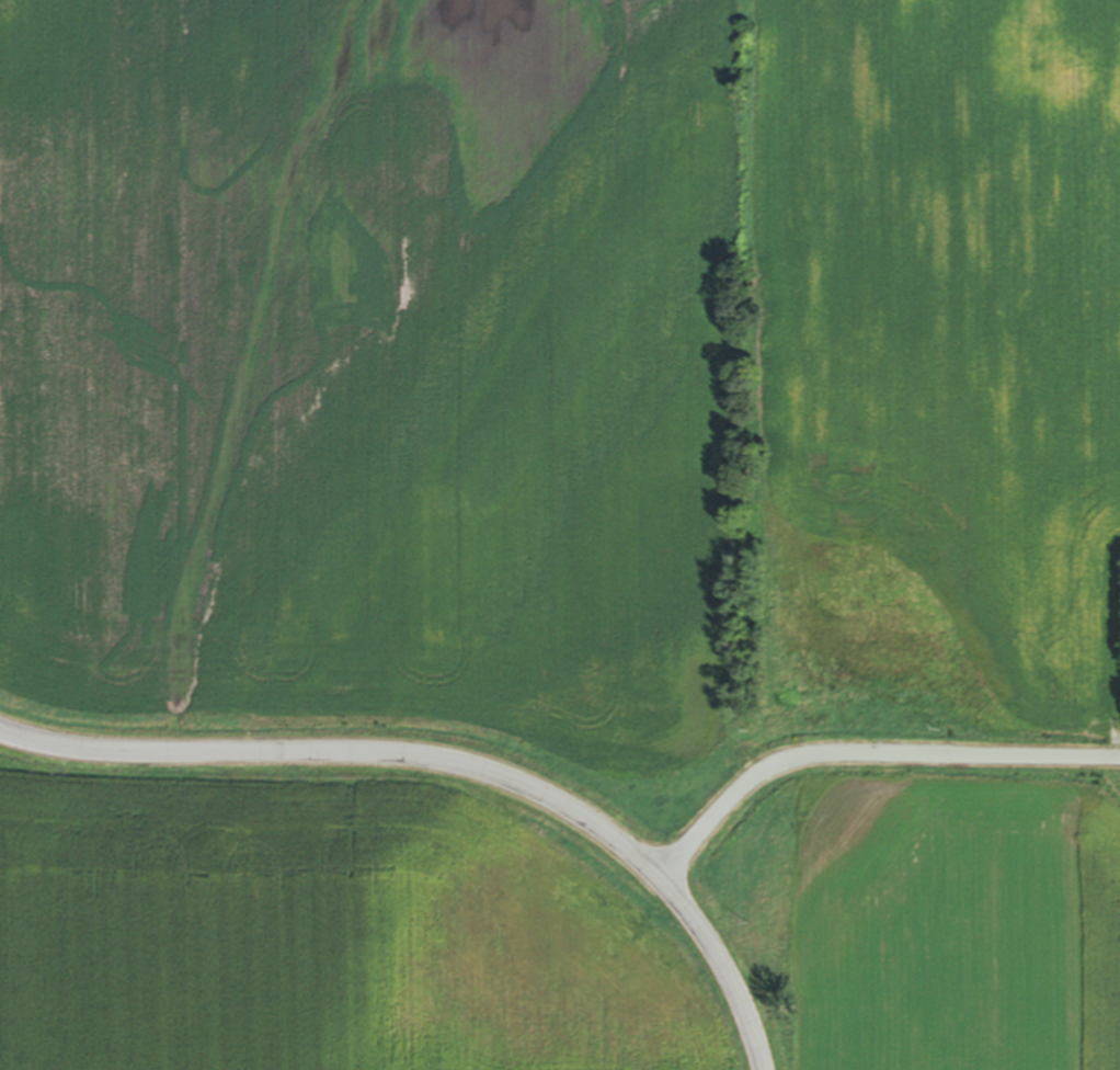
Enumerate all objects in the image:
road: (865, 754)
road: (456, 762)

